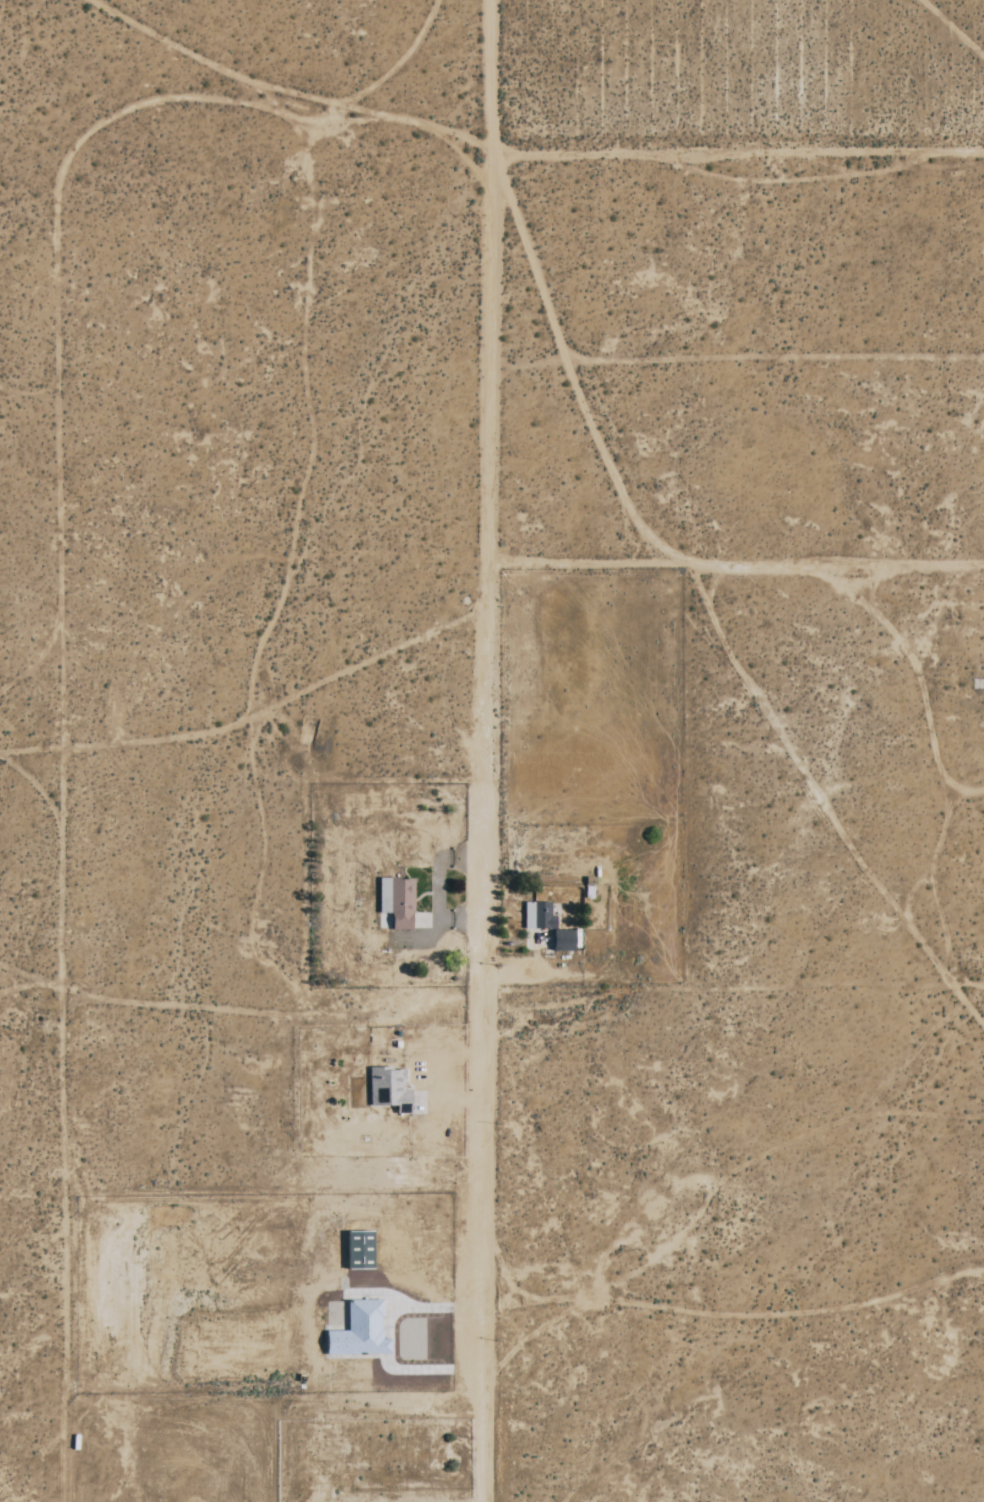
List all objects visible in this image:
road: (737, 149)
road: (486, 492)
road: (735, 563)
building: (396, 902)
building: (534, 915)
building: (389, 1089)
road: (480, 1243)
building: (359, 1332)

